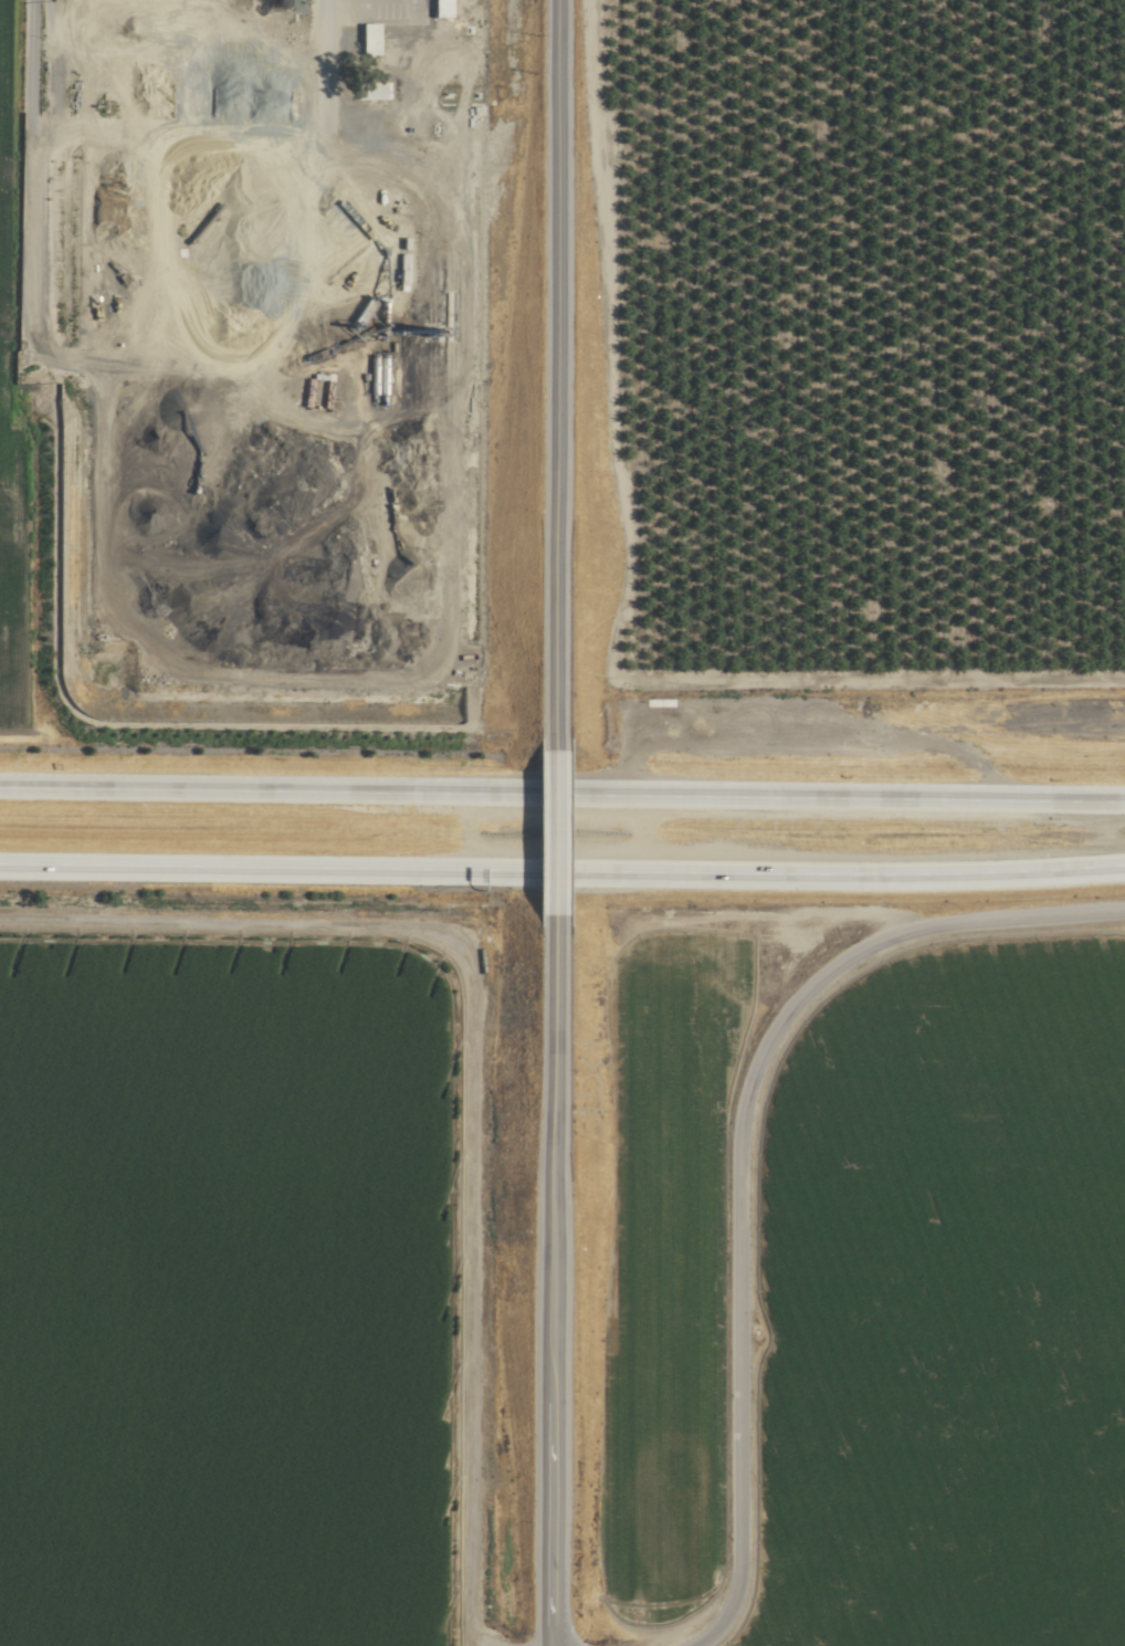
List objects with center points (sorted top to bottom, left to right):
building: (437, 8)
building: (296, 34)
building: (366, 39)
building: (367, 91)
road: (547, 373)
road: (448, 794)
road: (1010, 799)
road: (546, 830)
road: (562, 870)
road: (464, 1097)
road: (739, 1222)
road: (543, 1280)

